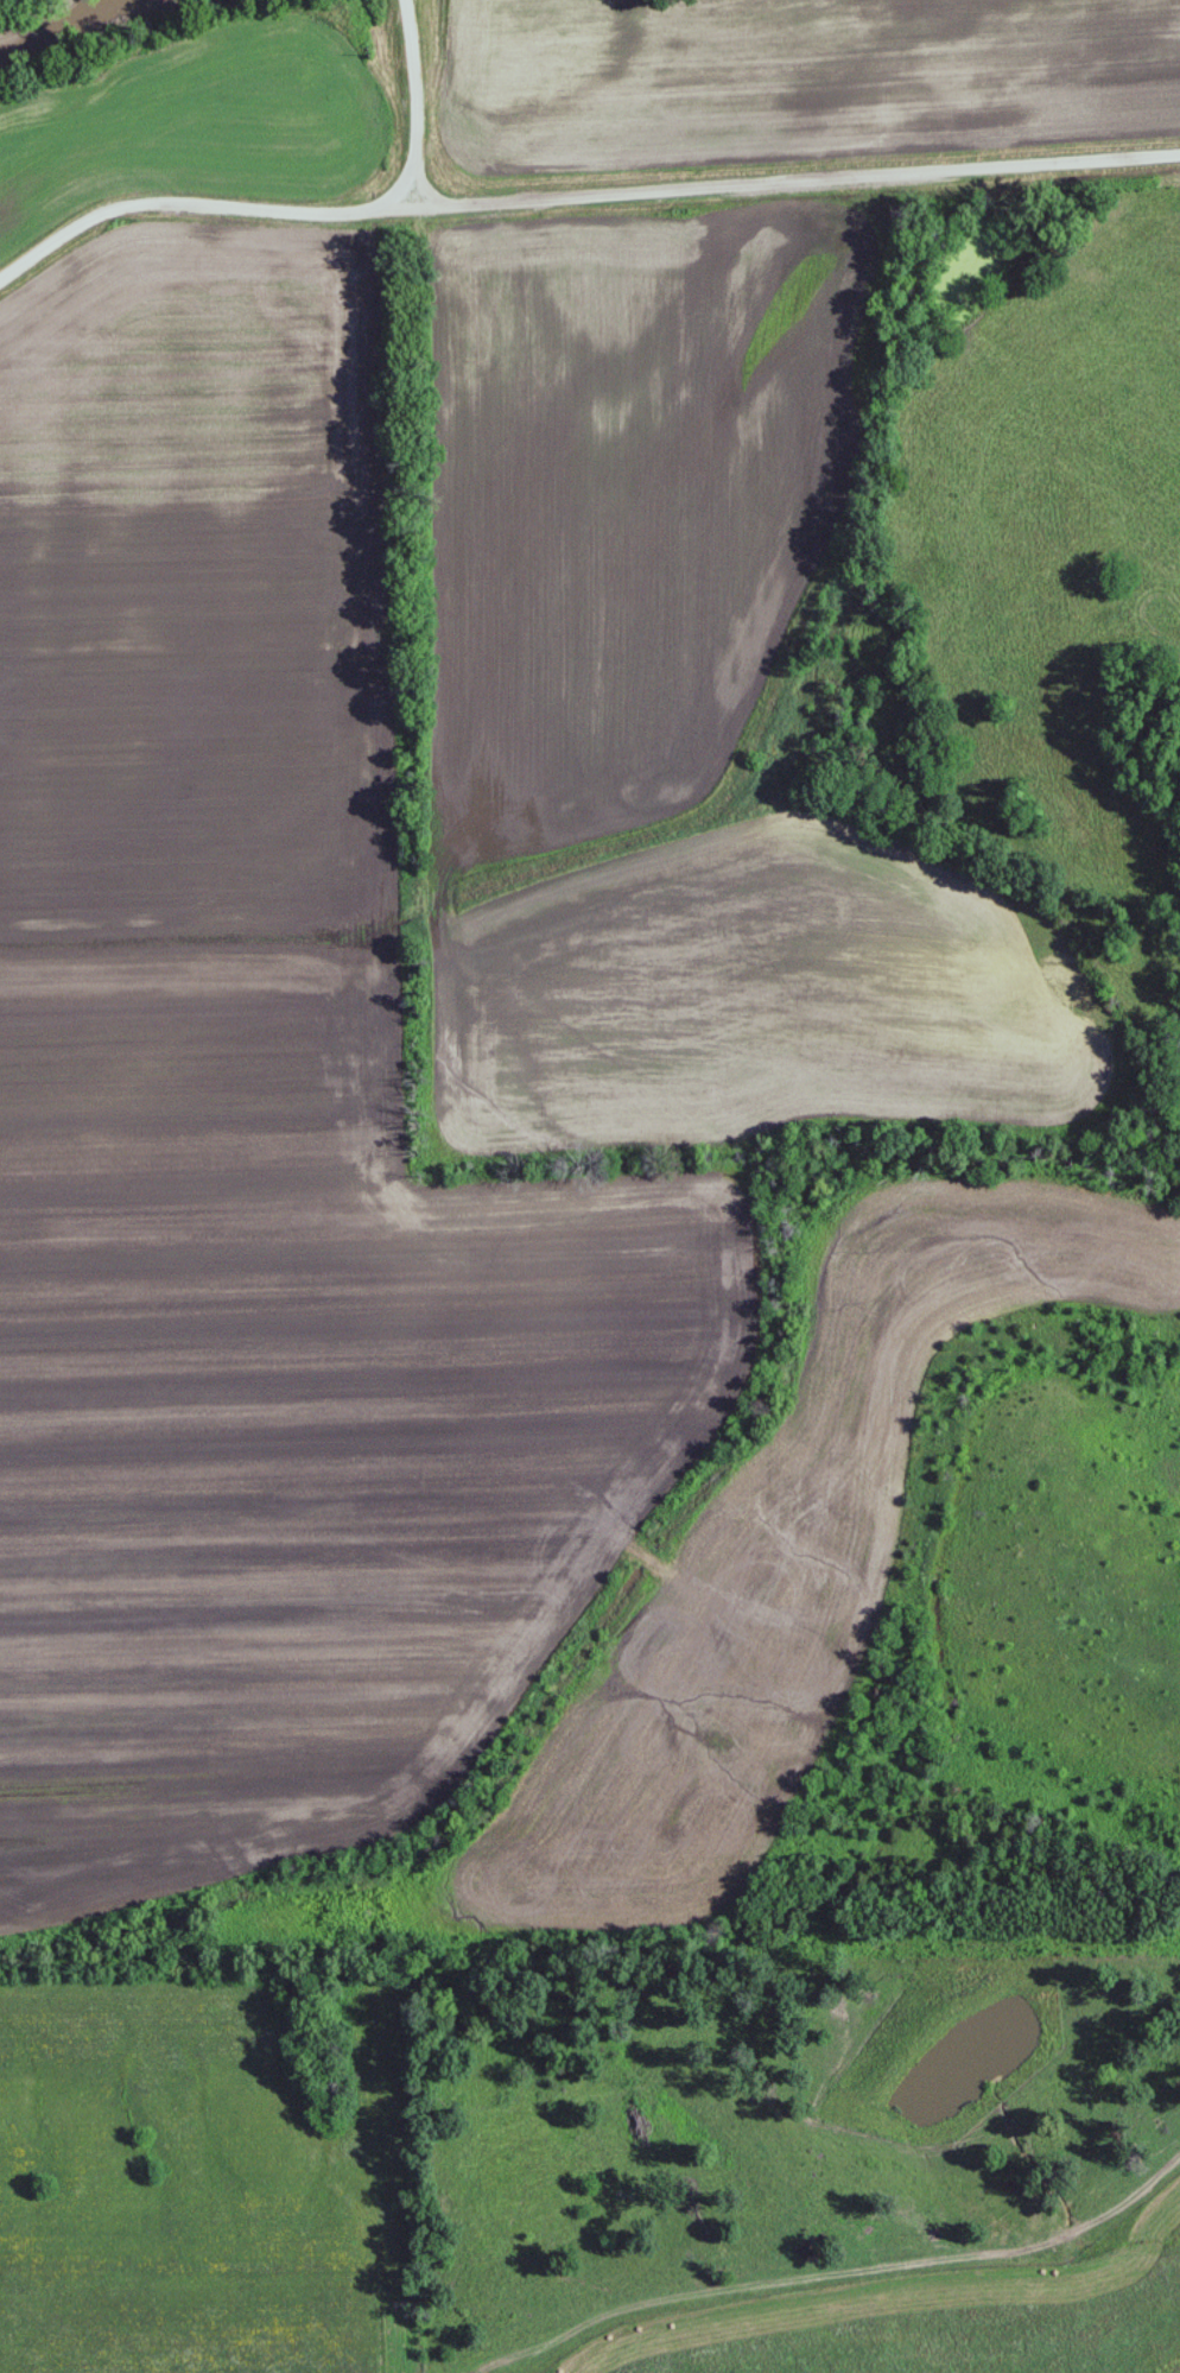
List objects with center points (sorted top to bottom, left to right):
road: (415, 101)
road: (798, 179)
road: (197, 203)

